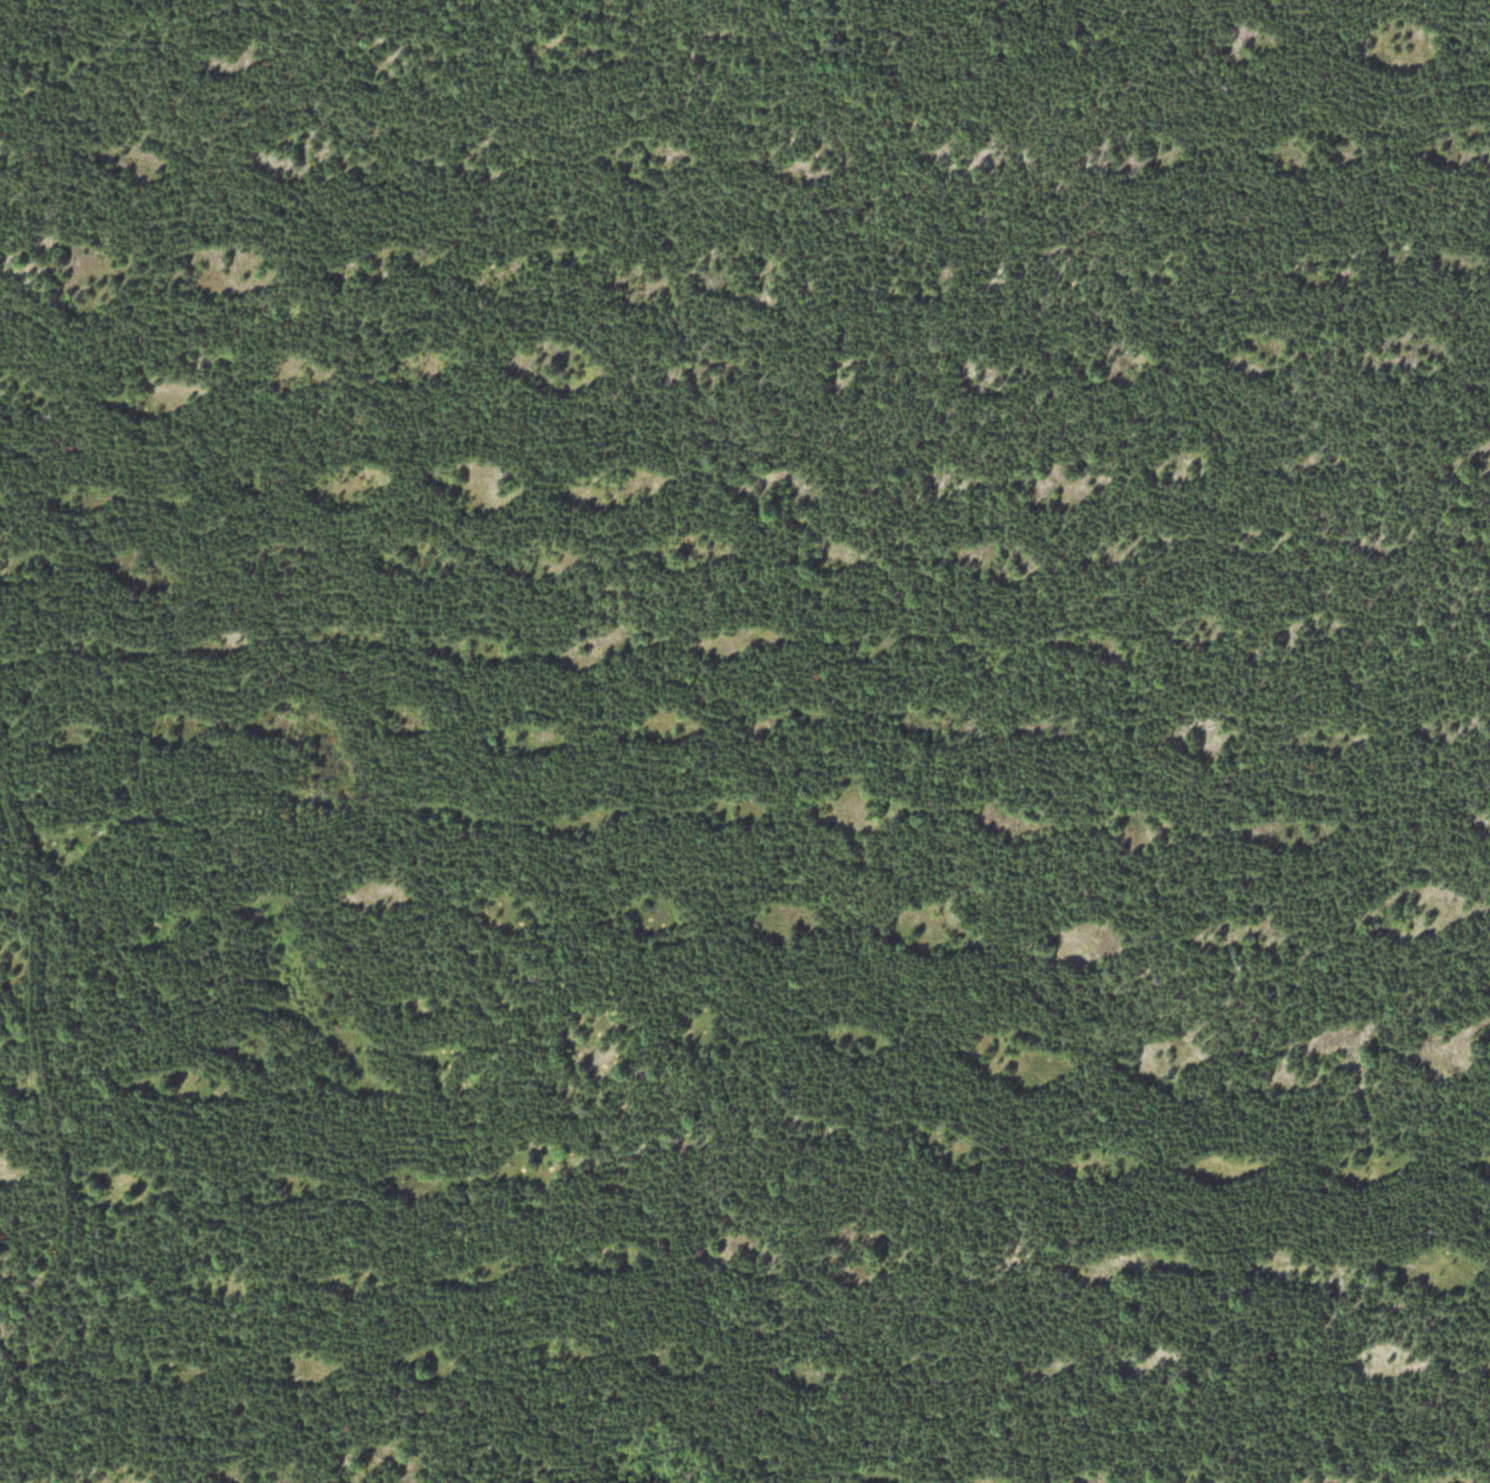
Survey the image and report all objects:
road: (656, 1248)

